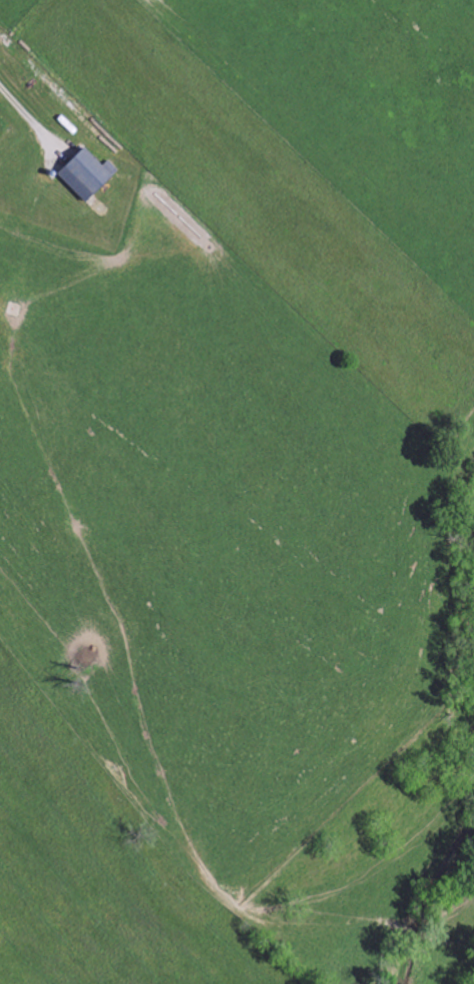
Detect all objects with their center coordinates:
road: (25, 111)
building: (87, 175)

